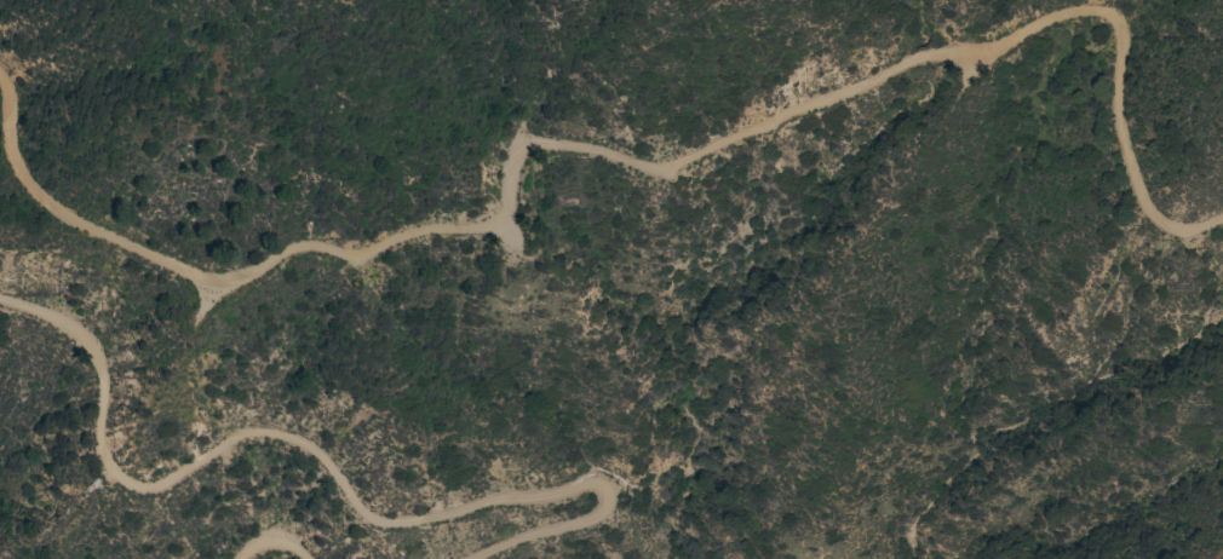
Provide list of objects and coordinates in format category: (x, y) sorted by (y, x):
road: (282, 150)
road: (622, 161)
road: (334, 467)
road: (280, 543)

